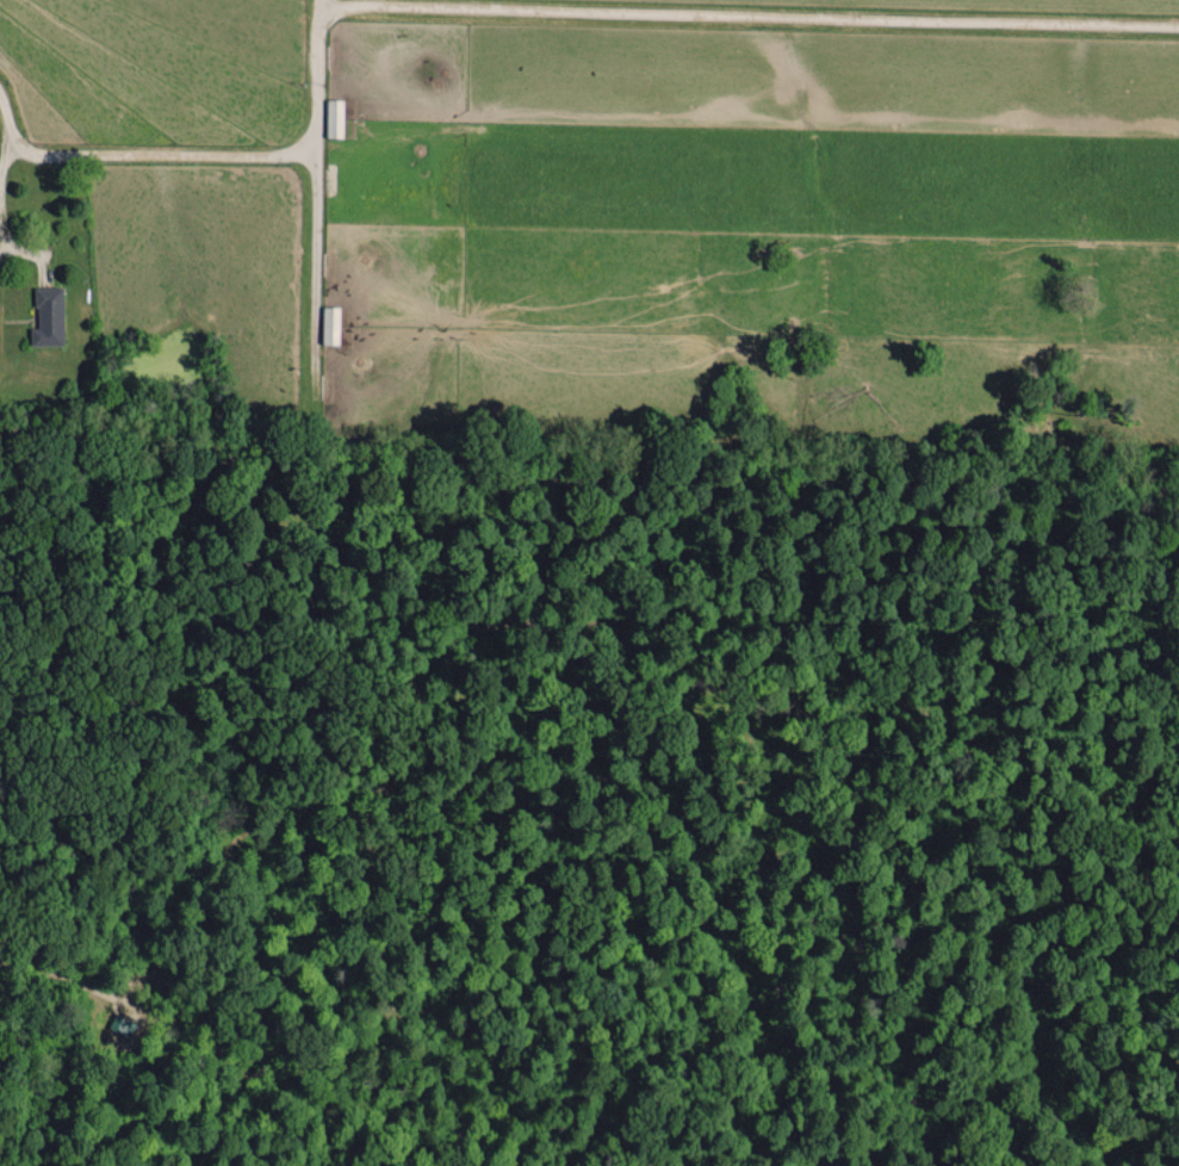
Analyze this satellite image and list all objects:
building: (334, 117)
building: (48, 316)
building: (330, 324)

